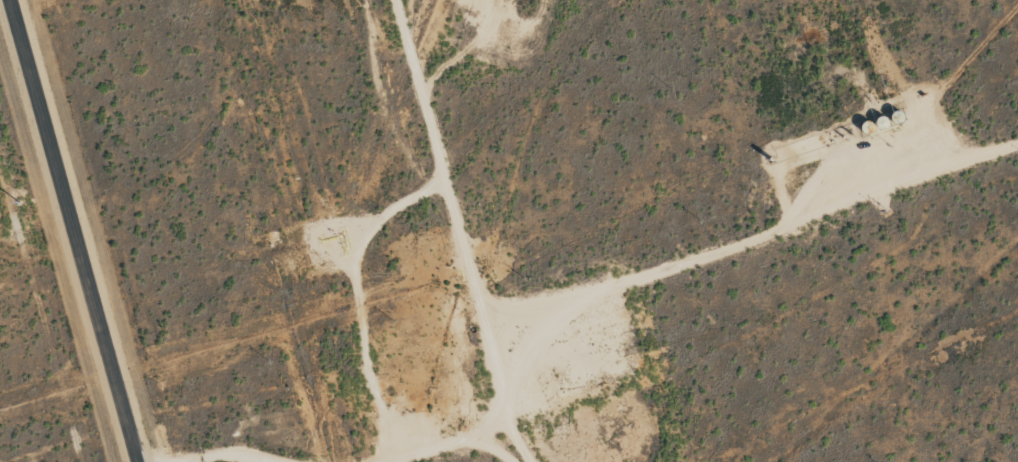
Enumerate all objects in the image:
road: (75, 231)
road: (458, 233)

